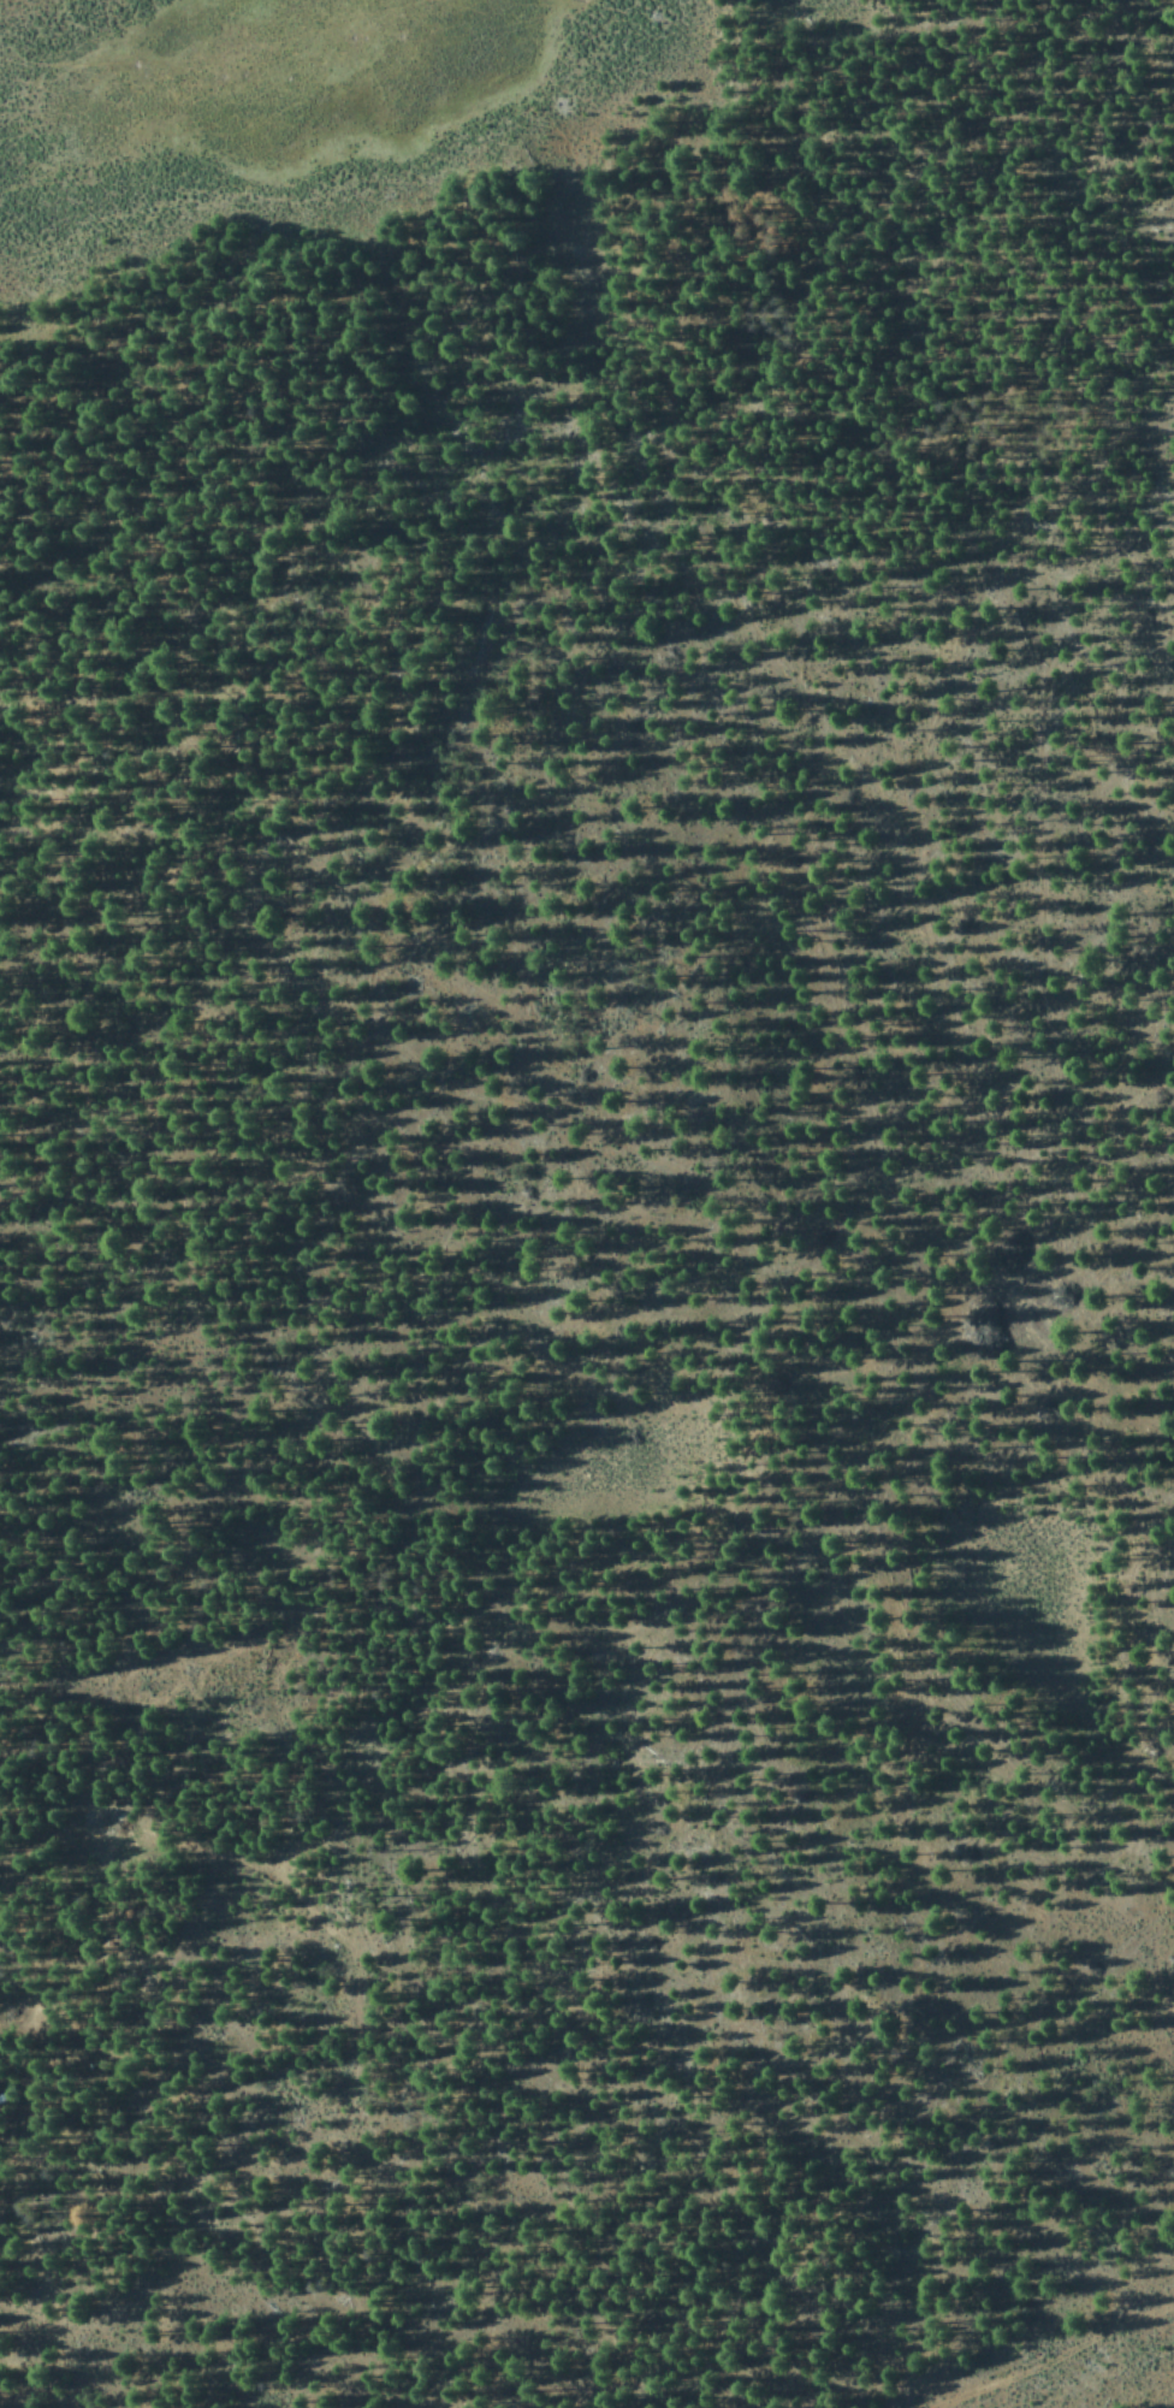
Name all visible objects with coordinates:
road: (105, 2)

